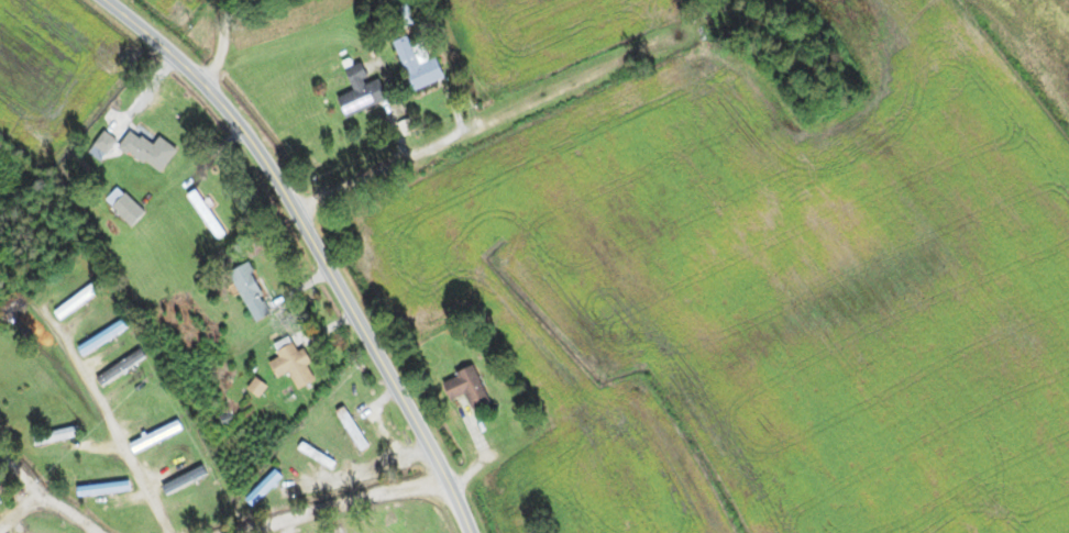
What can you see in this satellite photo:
building: (407, 16)
road: (221, 43)
building: (422, 66)
building: (367, 92)
road: (467, 131)
building: (109, 142)
building: (153, 148)
building: (132, 208)
road: (317, 243)
building: (255, 291)
building: (79, 300)
building: (298, 365)
building: (472, 386)
road: (112, 425)
building: (355, 427)
building: (58, 435)
building: (320, 455)
road: (372, 467)
building: (1, 473)
road: (37, 481)
road: (340, 502)
road: (67, 522)

